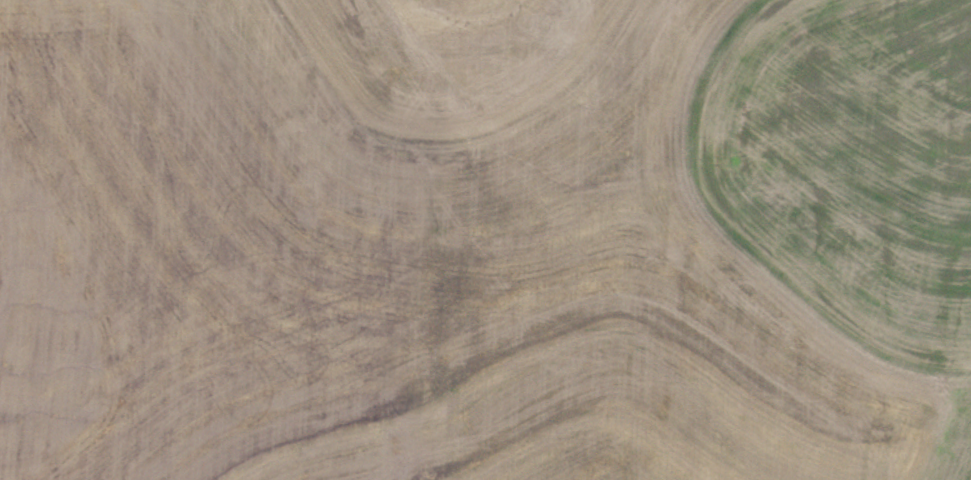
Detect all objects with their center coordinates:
crop: (485, 240)

